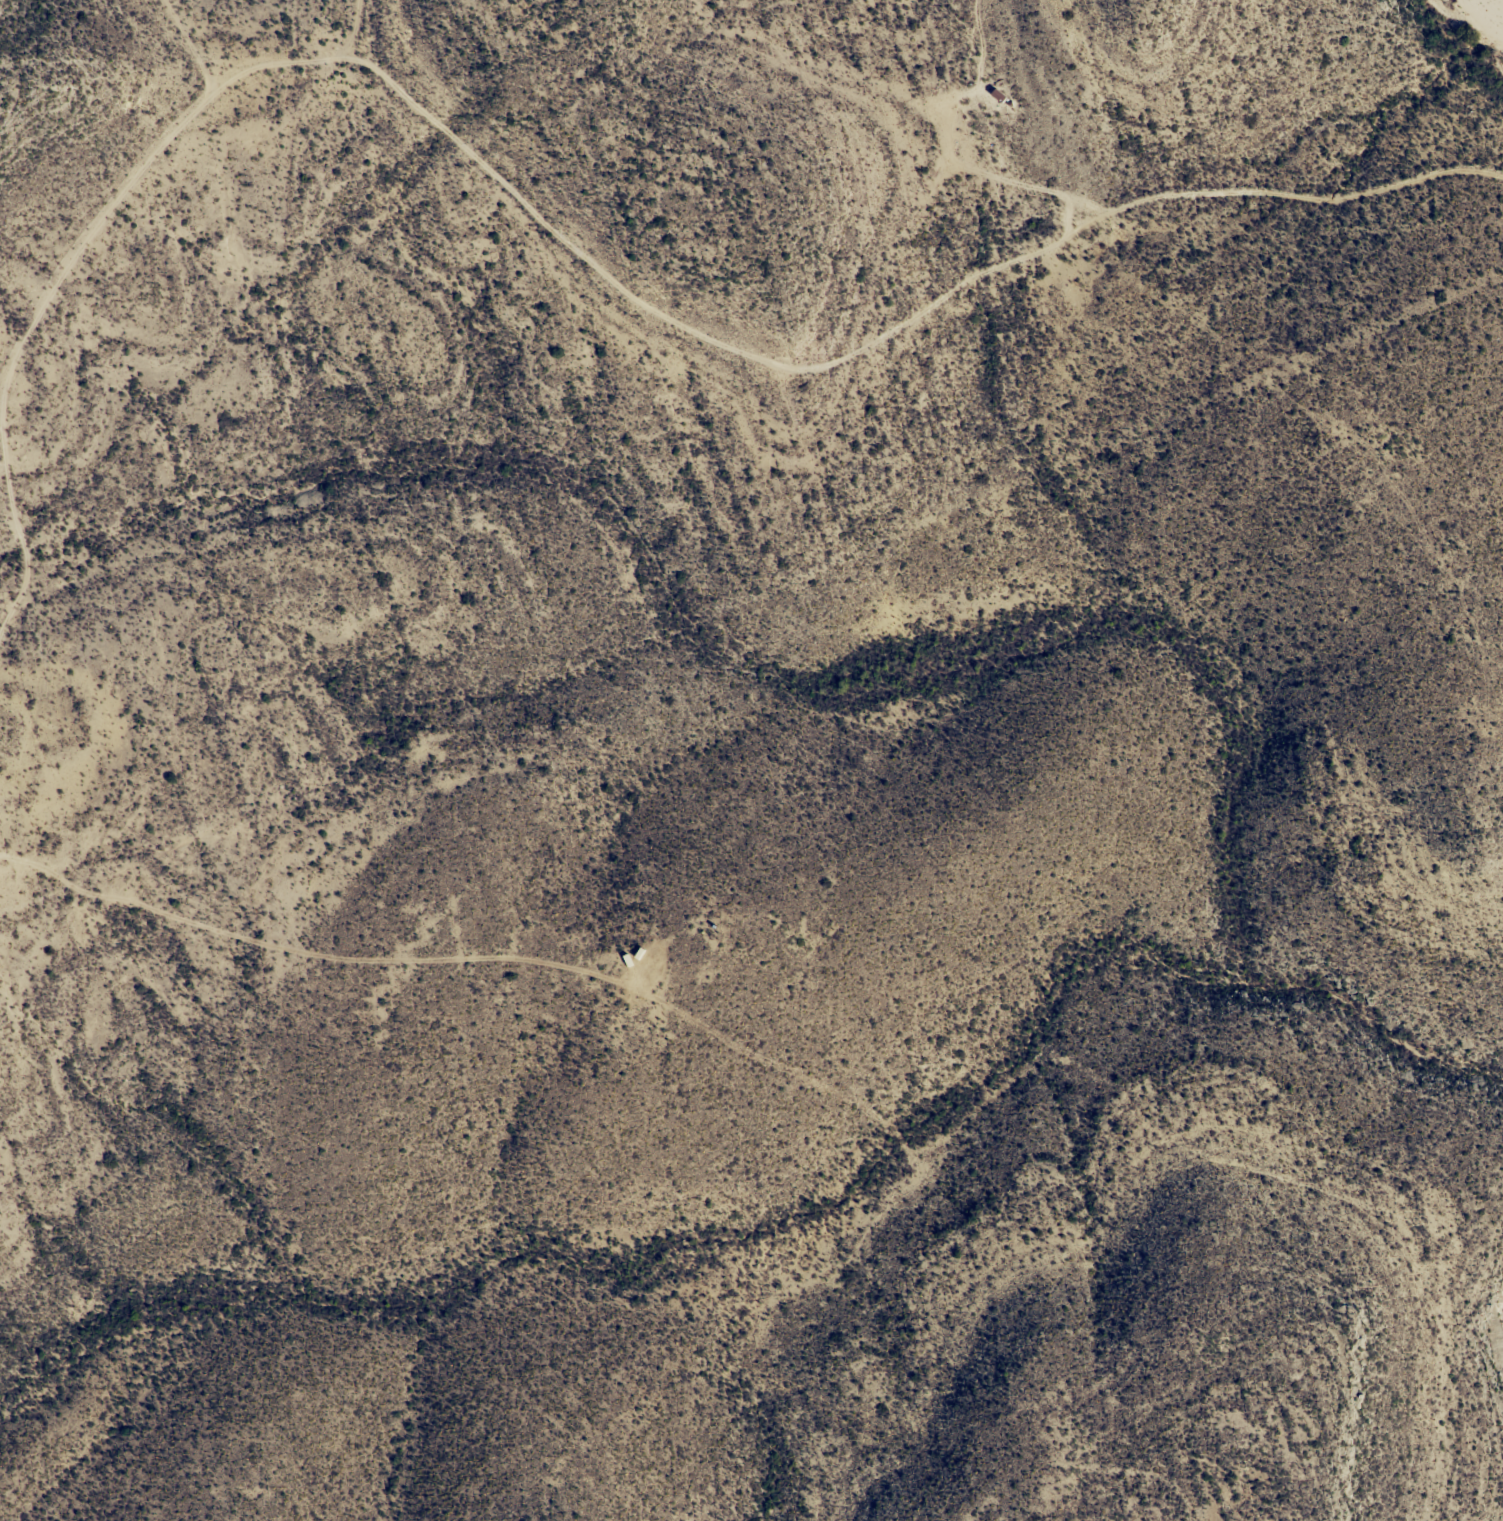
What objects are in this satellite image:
road: (171, 42)
road: (478, 124)
road: (15, 651)

